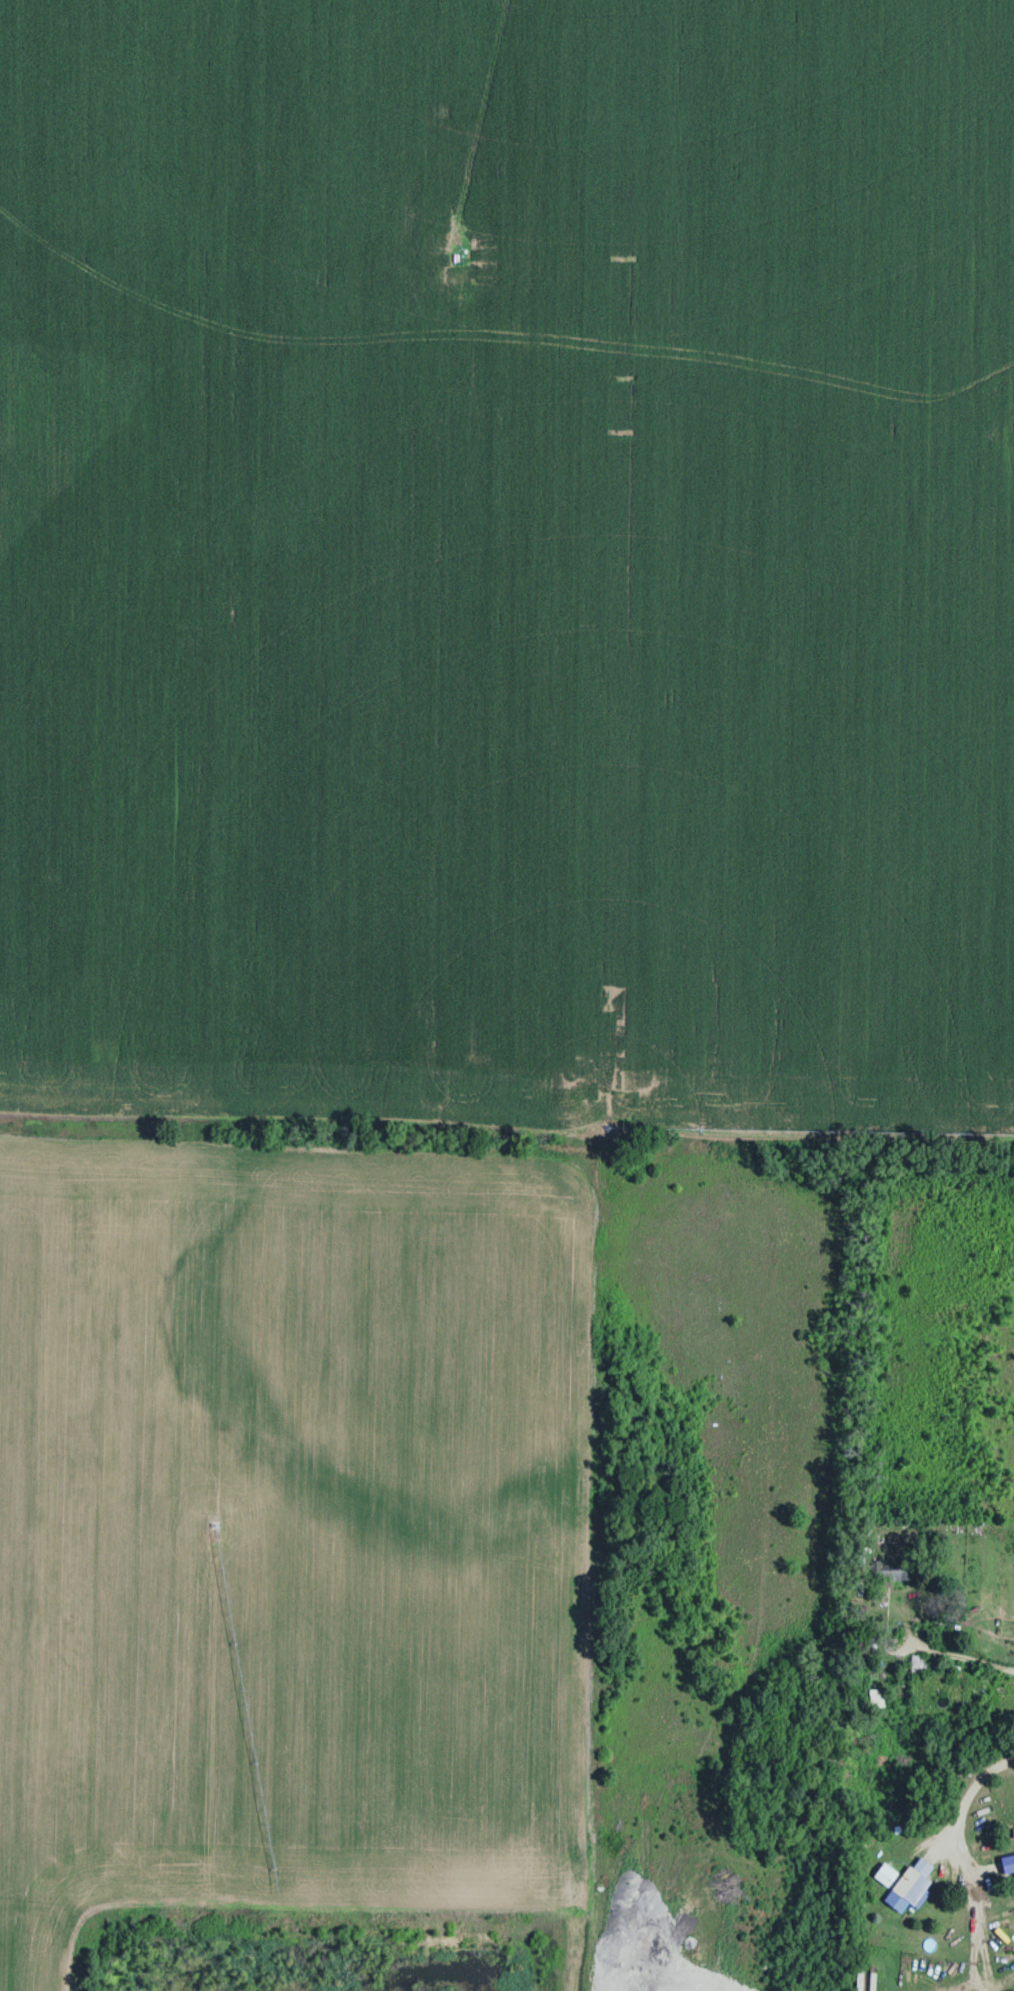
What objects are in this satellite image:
building: (887, 1569)
building: (918, 1665)
building: (1006, 1861)
building: (909, 1884)

